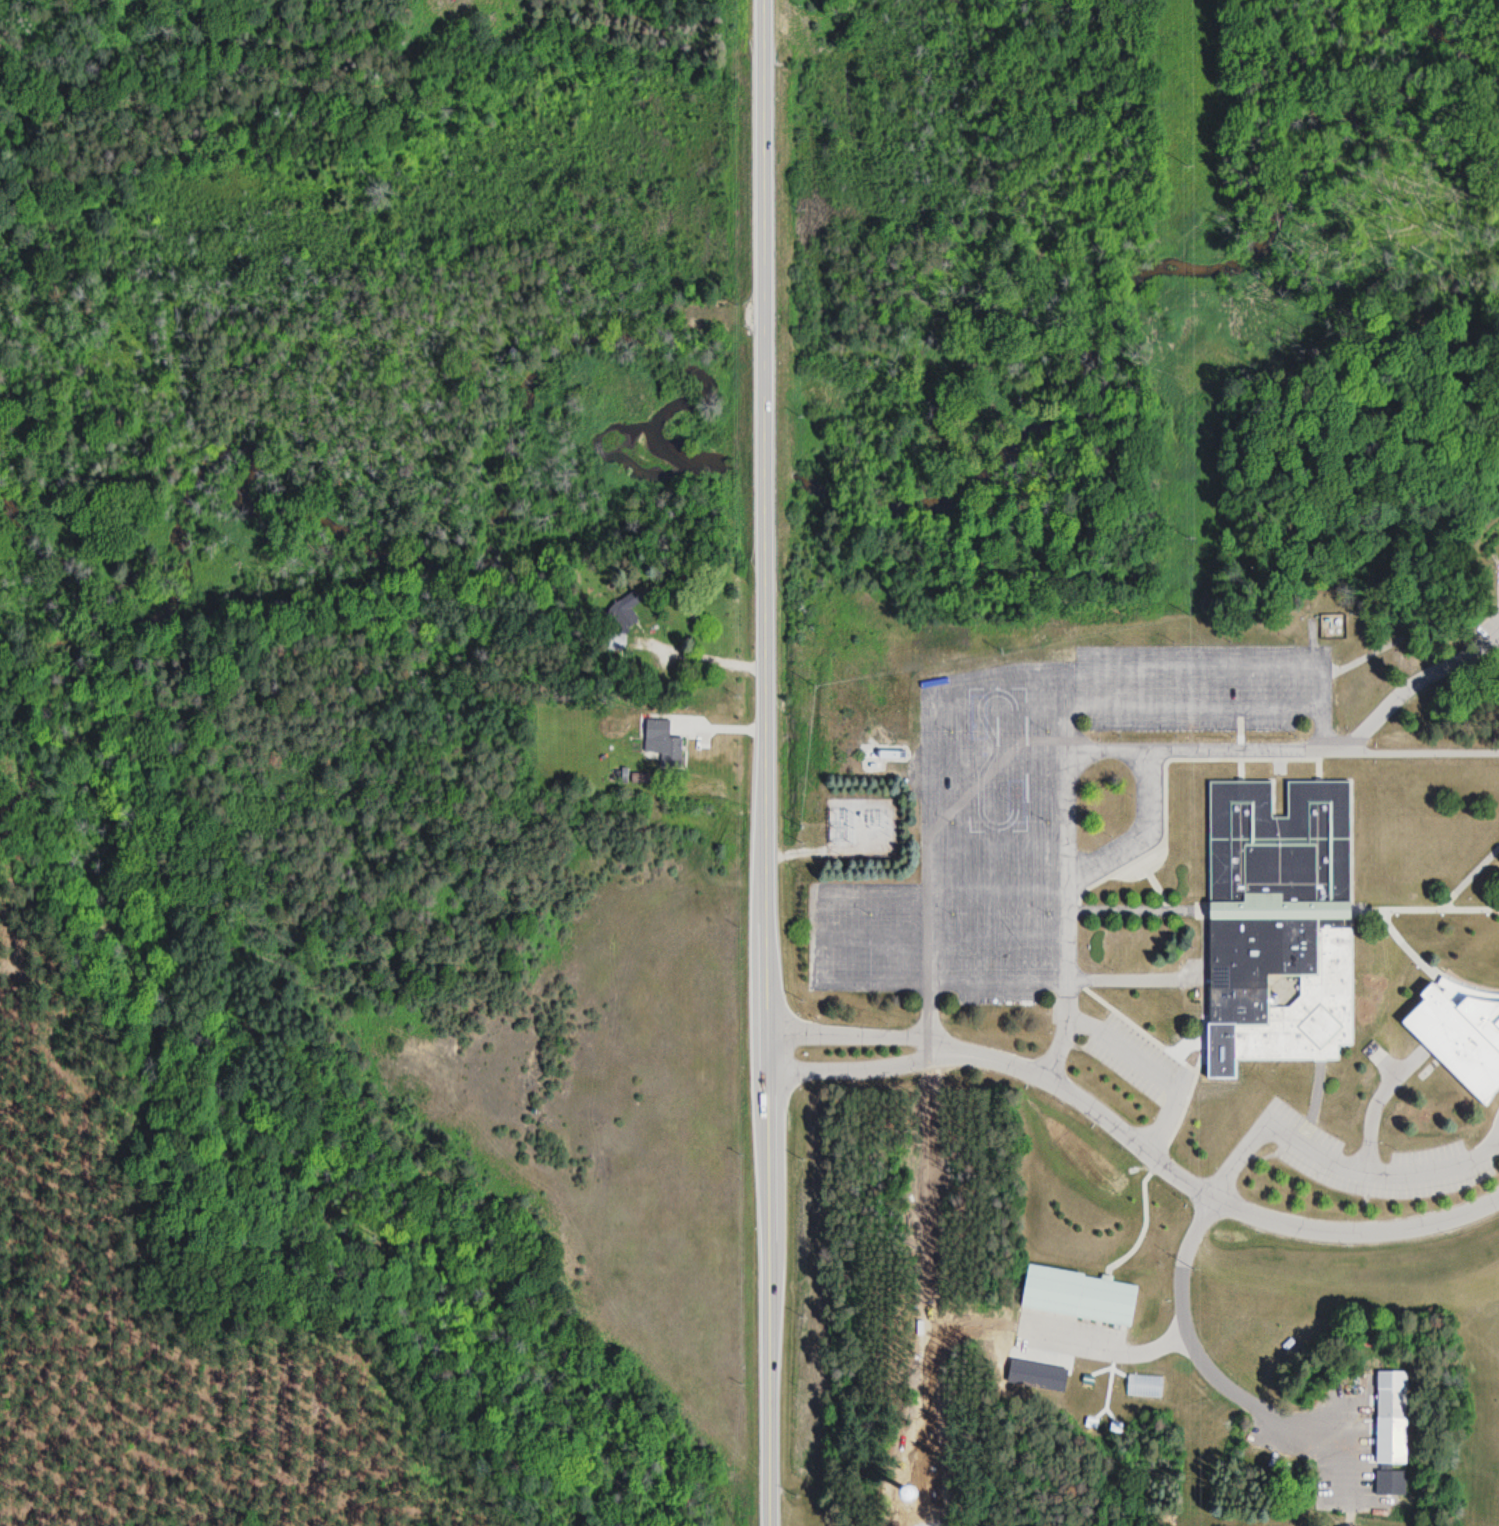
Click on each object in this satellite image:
building: (622, 616)
road: (1192, 669)
road: (1318, 690)
road: (1123, 710)
building: (661, 743)
road: (1129, 751)
road: (766, 763)
road: (929, 796)
road: (997, 800)
parking lot: (1028, 807)
power substation: (862, 829)
road: (1141, 837)
building: (1278, 846)
road: (997, 848)
road: (798, 854)
road: (1066, 875)
road: (941, 939)
building: (1259, 954)
road: (825, 984)
building: (1305, 1010)
road: (865, 1036)
building: (1460, 1040)
parking lot: (1133, 1060)
road: (866, 1071)
road: (1147, 1074)
road: (1374, 1103)
road: (1497, 1143)
parking lot: (1360, 1158)
road: (1338, 1167)
road: (1214, 1200)
building: (1079, 1293)
parking lot: (1070, 1341)
road: (1111, 1351)
road: (1233, 1393)
building: (1390, 1417)

